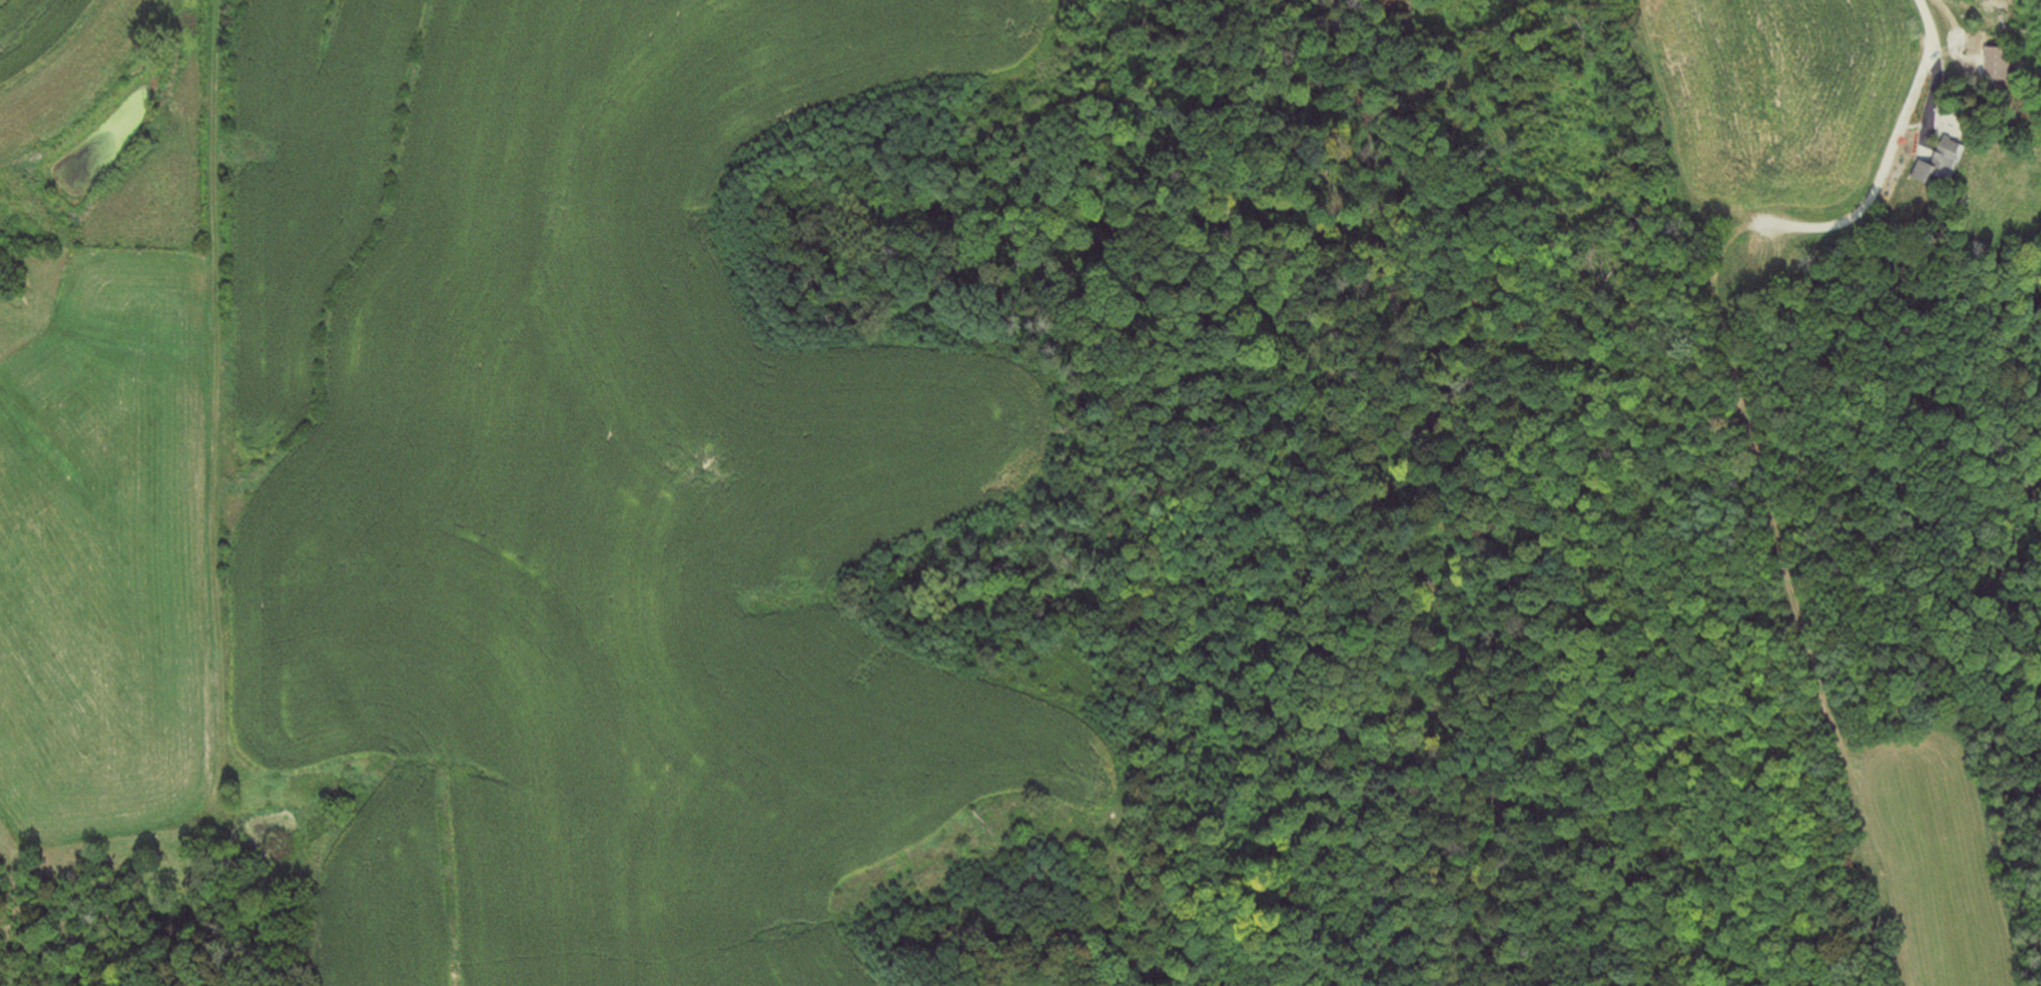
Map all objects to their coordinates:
building: (1993, 66)
road: (1892, 156)
building: (1934, 161)

